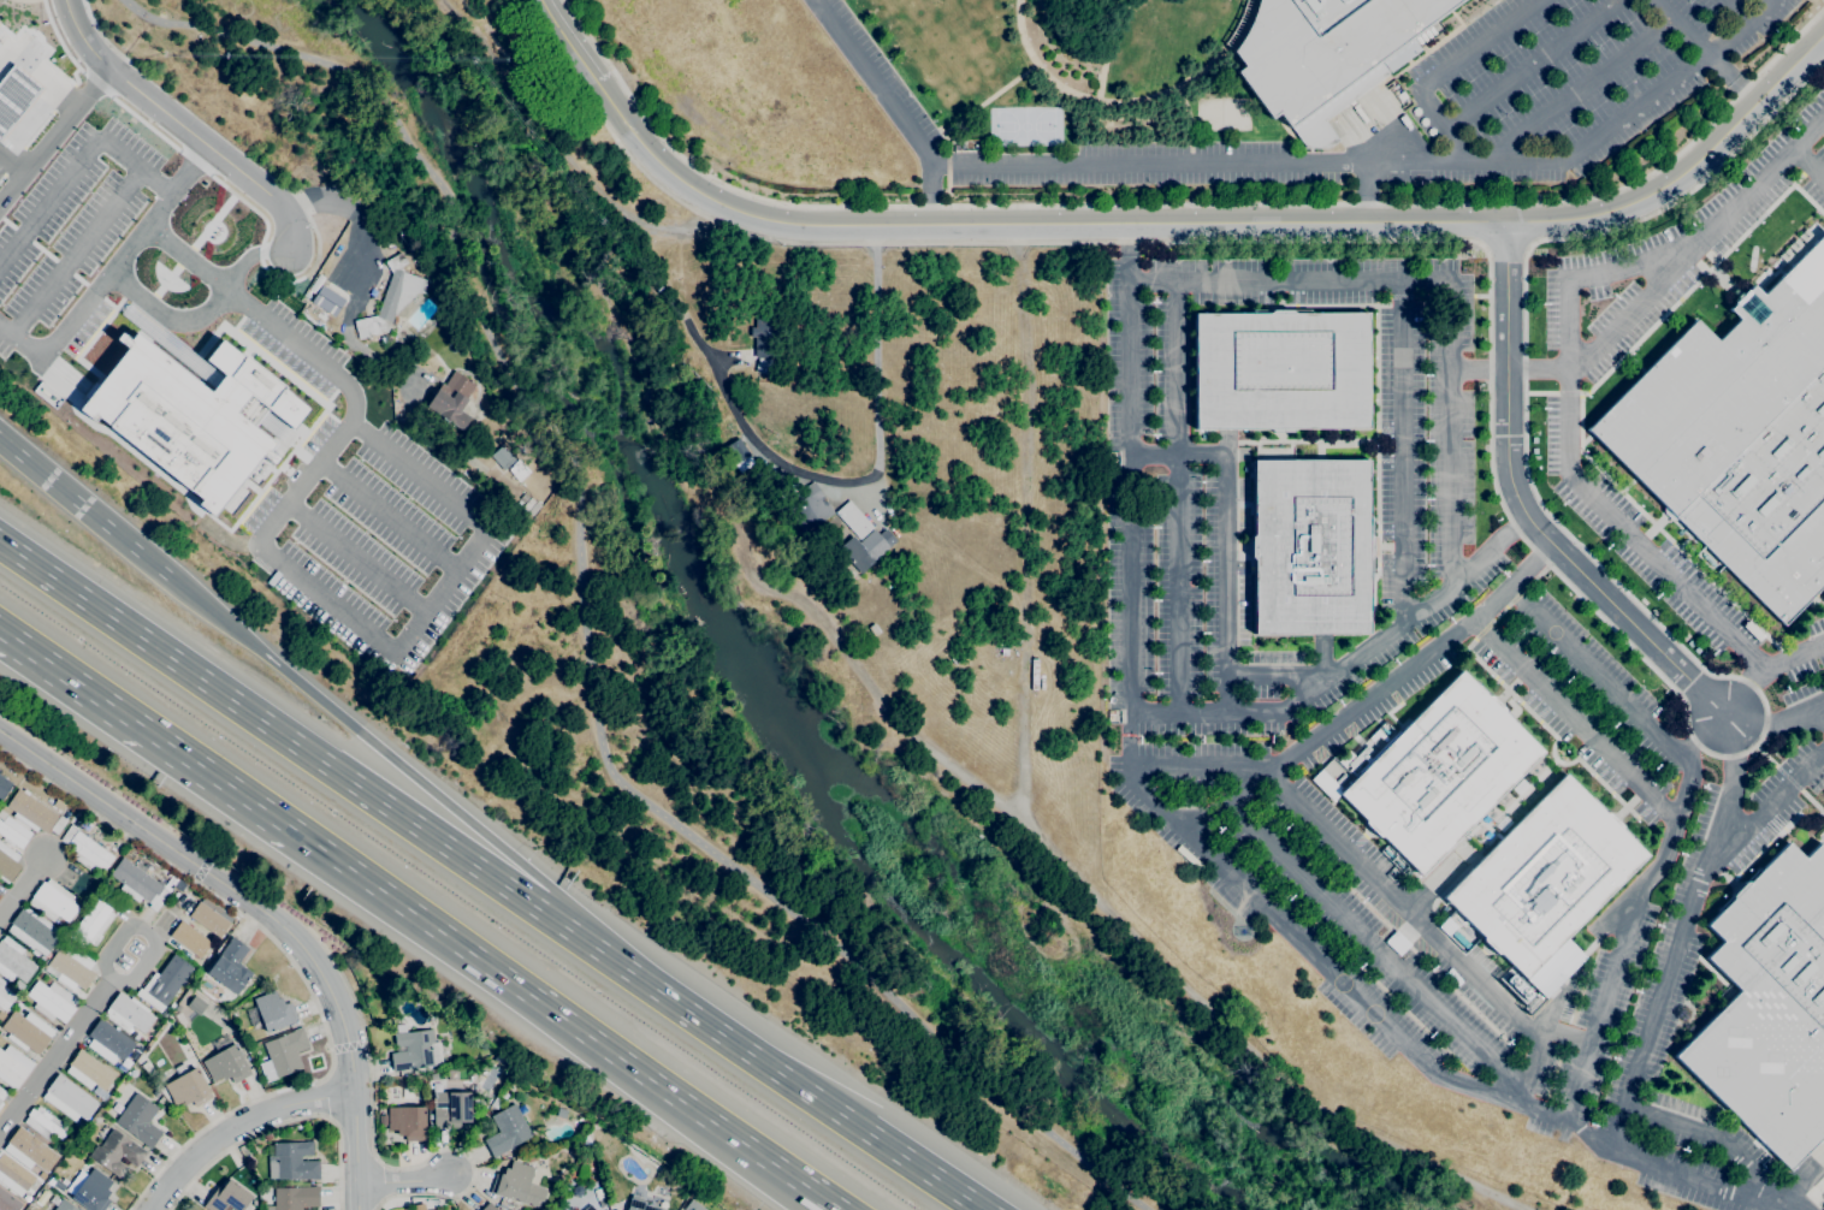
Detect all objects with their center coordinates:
road: (1736, 10)
road: (130, 31)
road: (101, 34)
road: (59, 37)
road: (5, 40)
road: (572, 41)
road: (42, 43)
road: (1822, 43)
road: (1108, 47)
road: (4, 49)
road: (1706, 51)
building: (1327, 54)
road: (1535, 63)
road: (35, 70)
parking lot: (888, 73)
road: (1443, 73)
road: (72, 75)
parking lot: (1582, 75)
road: (1018, 79)
road: (96, 83)
road: (1576, 94)
building: (13, 95)
gas station: (13, 95)
building: (1400, 96)
road: (63, 97)
road: (1058, 97)
road: (1137, 103)
road: (893, 107)
road: (143, 121)
road: (183, 123)
park: (1026, 126)
road: (1189, 127)
road: (36, 130)
road: (52, 131)
road: (556, 146)
road: (193, 160)
road: (12, 161)
road: (1808, 164)
road: (8, 167)
road: (1385, 167)
parking lot: (1172, 168)
road: (1, 174)
road: (64, 182)
road: (1369, 194)
road: (1185, 203)
road: (212, 220)
road: (1215, 224)
road: (85, 237)
road: (182, 254)
road: (184, 256)
parking lot: (1664, 261)
road: (107, 266)
road: (272, 273)
road: (354, 277)
flagpole: (164, 280)
road: (165, 280)
road: (1440, 280)
road: (1656, 285)
building: (391, 298)
building: (326, 302)
road: (147, 303)
road: (199, 312)
building: (170, 343)
building: (764, 344)
building: (1280, 370)
road: (59, 375)
building: (451, 398)
building: (188, 415)
parking lot: (1405, 420)
building: (273, 425)
building: (1740, 435)
road: (1403, 449)
building: (735, 453)
building: (503, 456)
building: (744, 464)
building: (519, 470)
road: (795, 475)
road: (1582, 485)
road: (1180, 500)
building: (525, 502)
building: (812, 506)
road: (1522, 508)
road: (90, 509)
building: (533, 509)
road: (1506, 512)
road: (387, 516)
building: (853, 520)
road: (1226, 538)
building: (1310, 546)
building: (866, 548)
parking lot: (1186, 553)
road: (356, 557)
road: (320, 597)
road: (585, 611)
road: (1344, 665)
road: (1279, 677)
road: (1743, 692)
road: (1375, 695)
road: (878, 699)
parking lot: (1592, 700)
road: (1575, 722)
road: (1775, 729)
road: (149, 730)
river: (789, 734)
road: (284, 735)
road: (1707, 739)
road: (383, 749)
building: (1438, 772)
road: (1195, 779)
building: (4, 785)
building: (59, 805)
building: (30, 811)
road: (1764, 814)
building: (85, 824)
building: (59, 825)
road: (1674, 831)
building: (13, 832)
road: (1037, 837)
building: (85, 849)
building: (7, 862)
road: (1218, 865)
building: (1545, 876)
building: (138, 883)
road: (20, 884)
building: (53, 901)
road: (266, 914)
building: (208, 919)
building: (93, 921)
road: (1417, 927)
road: (1683, 930)
building: (32, 931)
parking lot: (1399, 931)
building: (188, 938)
road: (1372, 951)
building: (35, 953)
building: (13, 961)
building: (230, 966)
road: (292, 966)
building: (70, 967)
building: (43, 978)
building: (164, 983)
building: (1515, 983)
building: (18, 985)
building: (5, 996)
building: (52, 1001)
building: (196, 1004)
building: (18, 1006)
road: (1605, 1006)
building: (1770, 1007)
building: (271, 1012)
building: (128, 1013)
road: (569, 1022)
building: (26, 1031)
road: (64, 1042)
building: (108, 1042)
building: (411, 1050)
building: (286, 1052)
building: (226, 1062)
building: (13, 1067)
road: (777, 1069)
building: (89, 1070)
building: (188, 1089)
building: (2, 1093)
building: (100, 1093)
road: (327, 1097)
building: (69, 1098)
building: (0, 1103)
building: (450, 1109)
building: (140, 1120)
building: (408, 1122)
building: (43, 1123)
road: (282, 1123)
road: (237, 1126)
building: (507, 1131)
road: (1711, 1135)
building: (29, 1150)
building: (117, 1152)
road: (374, 1152)
building: (292, 1161)
building: (14, 1175)
road: (403, 1180)
building: (543, 1181)
building: (517, 1185)
building: (89, 1190)
building: (227, 1197)
building: (26, 1198)
building: (294, 1198)
building: (7, 1202)
building: (599, 1202)
building: (640, 1204)
building: (64, 1205)
building: (693, 1205)
building: (487, 1208)
building: (584, 1209)
building: (596, 1209)

